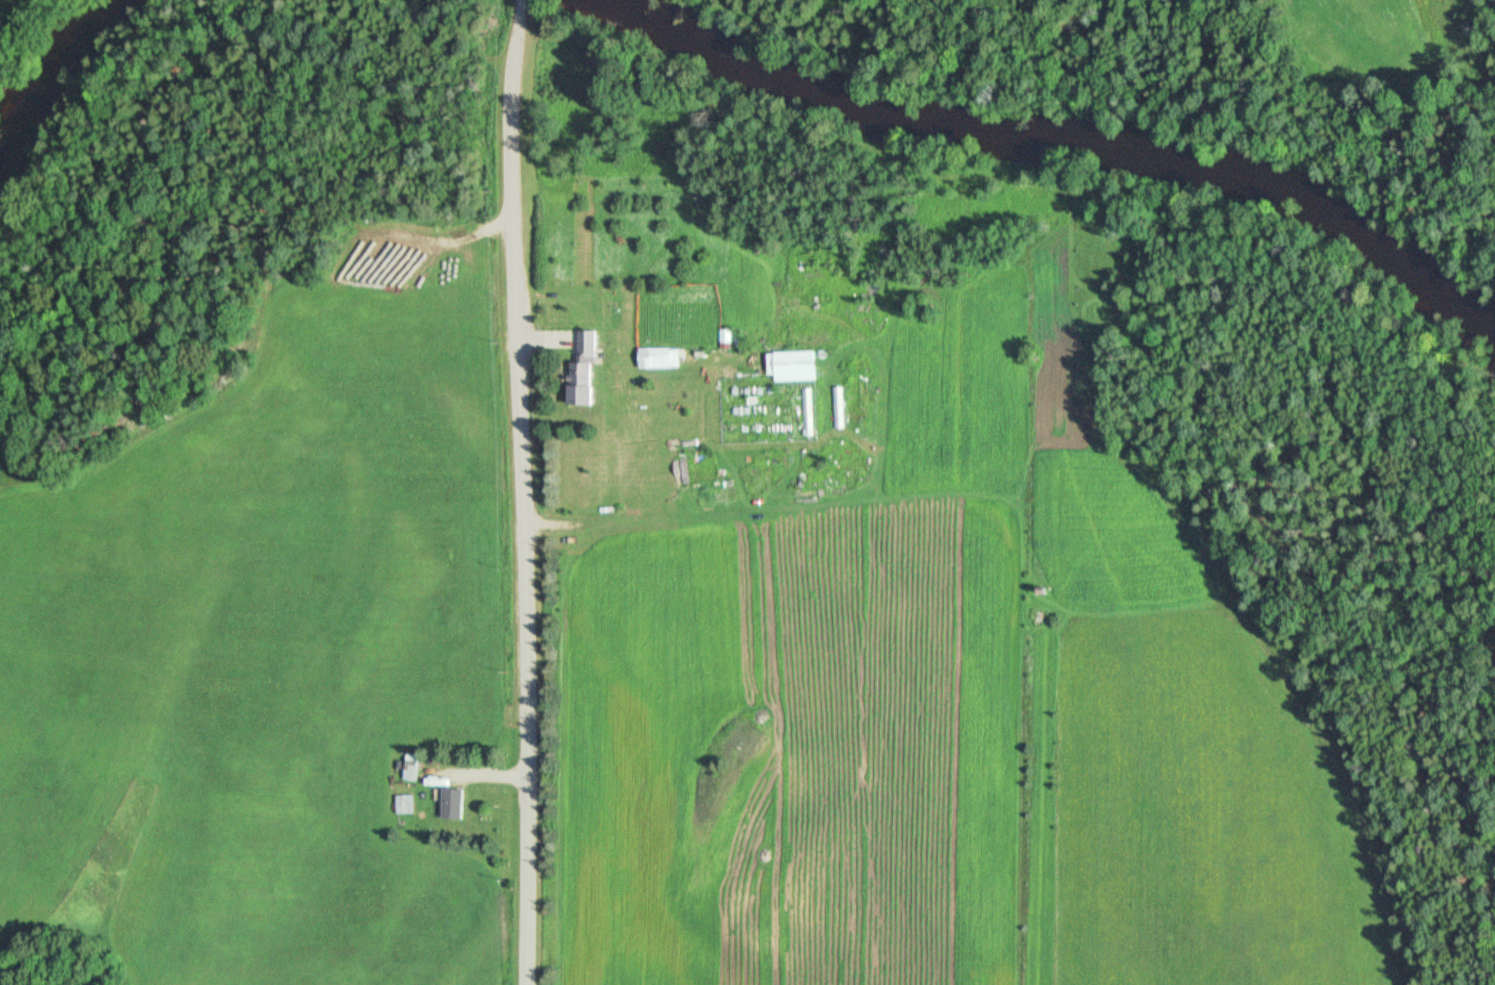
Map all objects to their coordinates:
road: (521, 1)
river: (642, 10)
river: (56, 67)
river: (1104, 143)
building: (658, 359)
building: (794, 366)
building: (582, 372)
road: (520, 493)
building: (453, 805)

